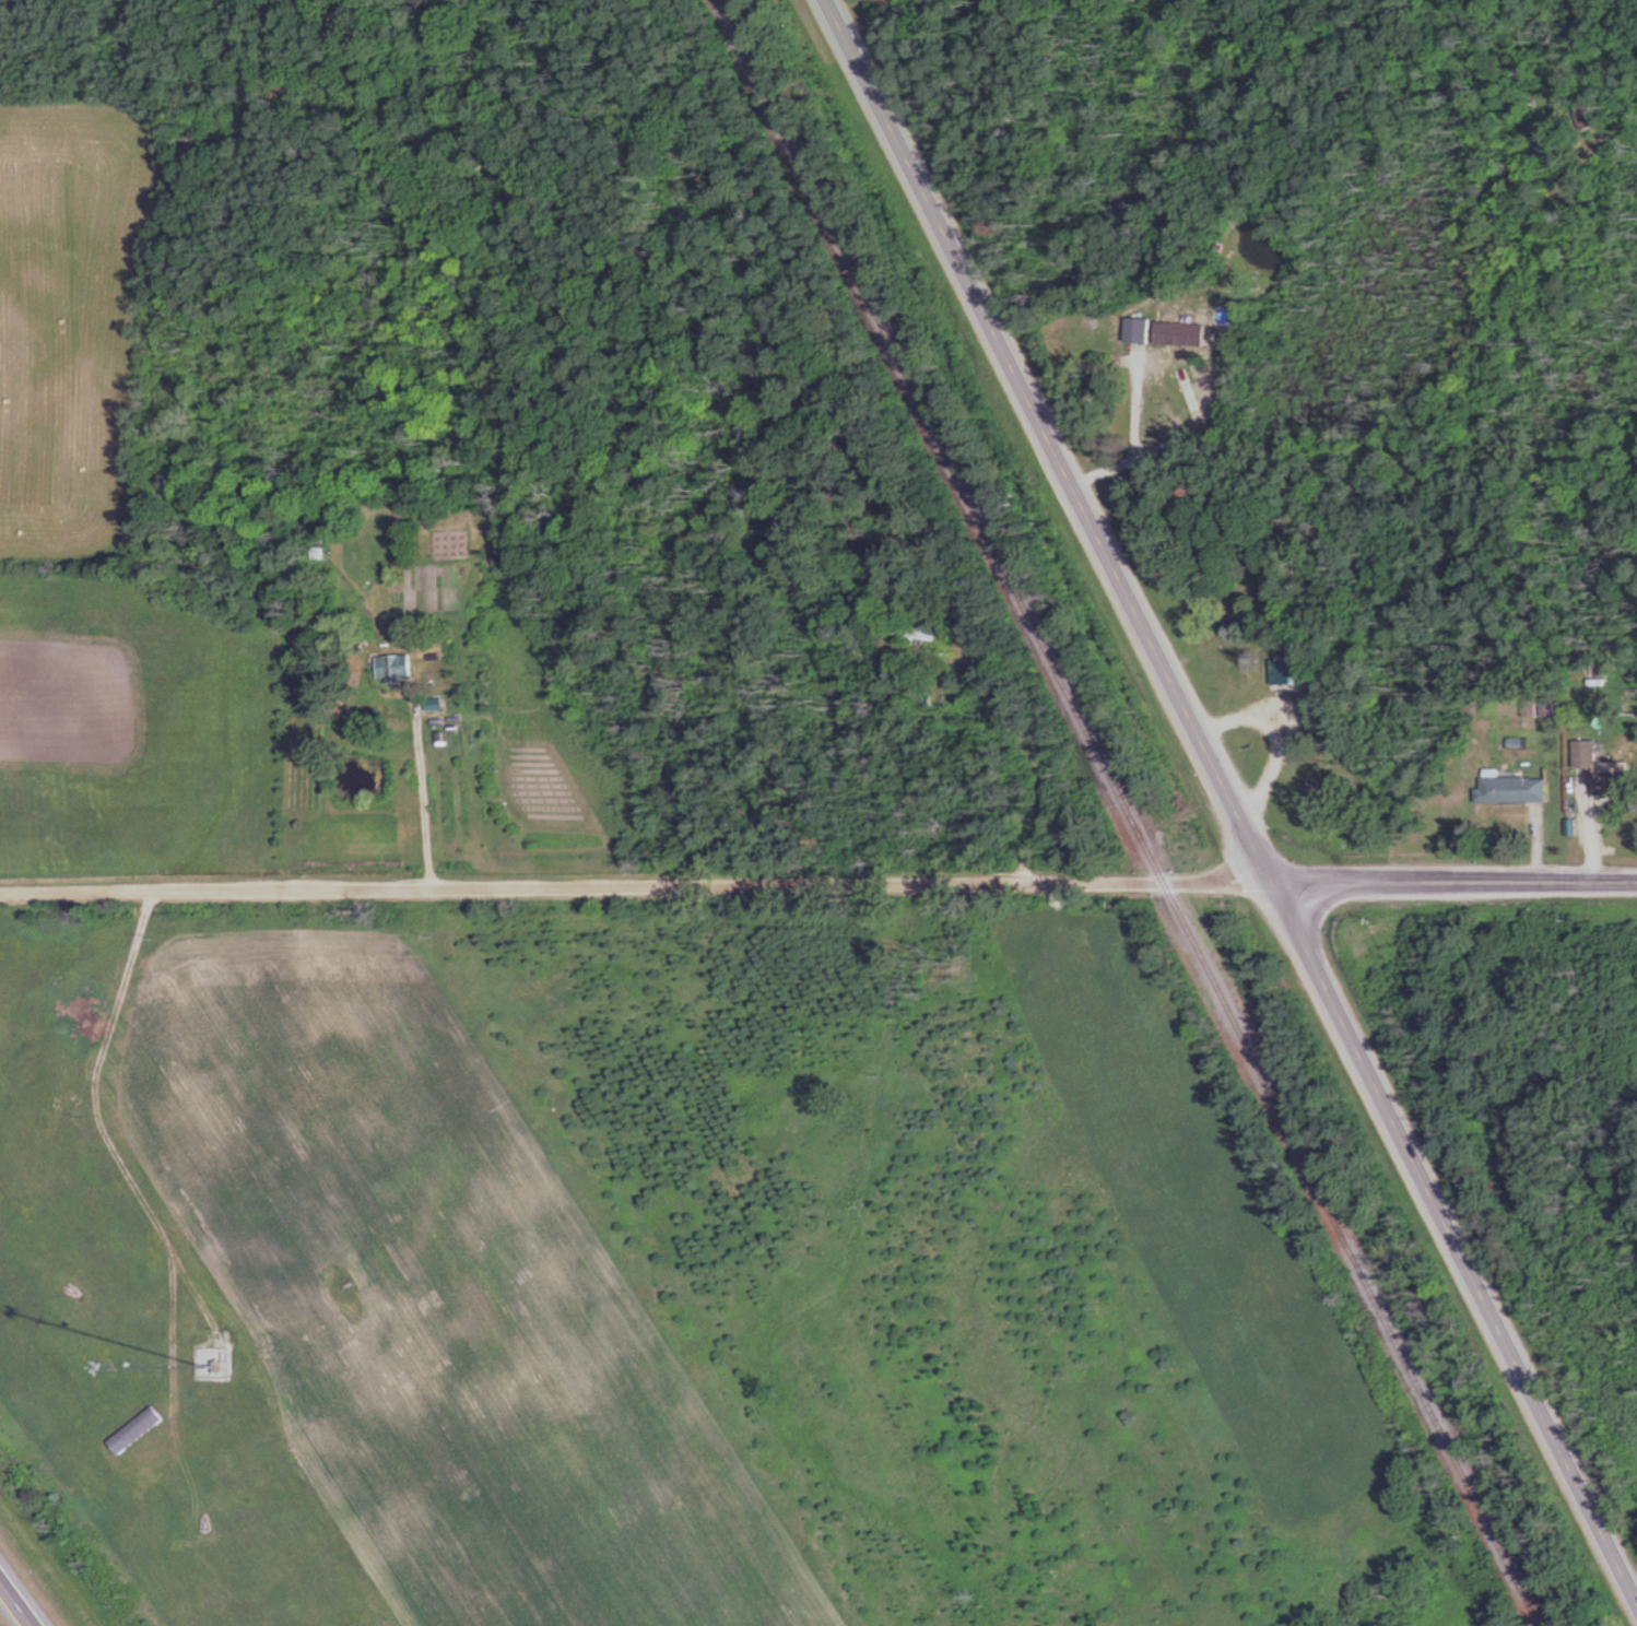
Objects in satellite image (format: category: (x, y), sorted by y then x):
building: (1143, 329)
building: (1188, 332)
building: (929, 632)
building: (400, 664)
building: (1289, 672)
building: (1244, 691)
building: (1545, 707)
road: (1034, 756)
building: (1598, 769)
building: (1508, 789)
road: (1234, 798)
railway: (1129, 812)
road: (1456, 881)
road: (637, 886)
building: (142, 1429)
road: (14, 1605)

